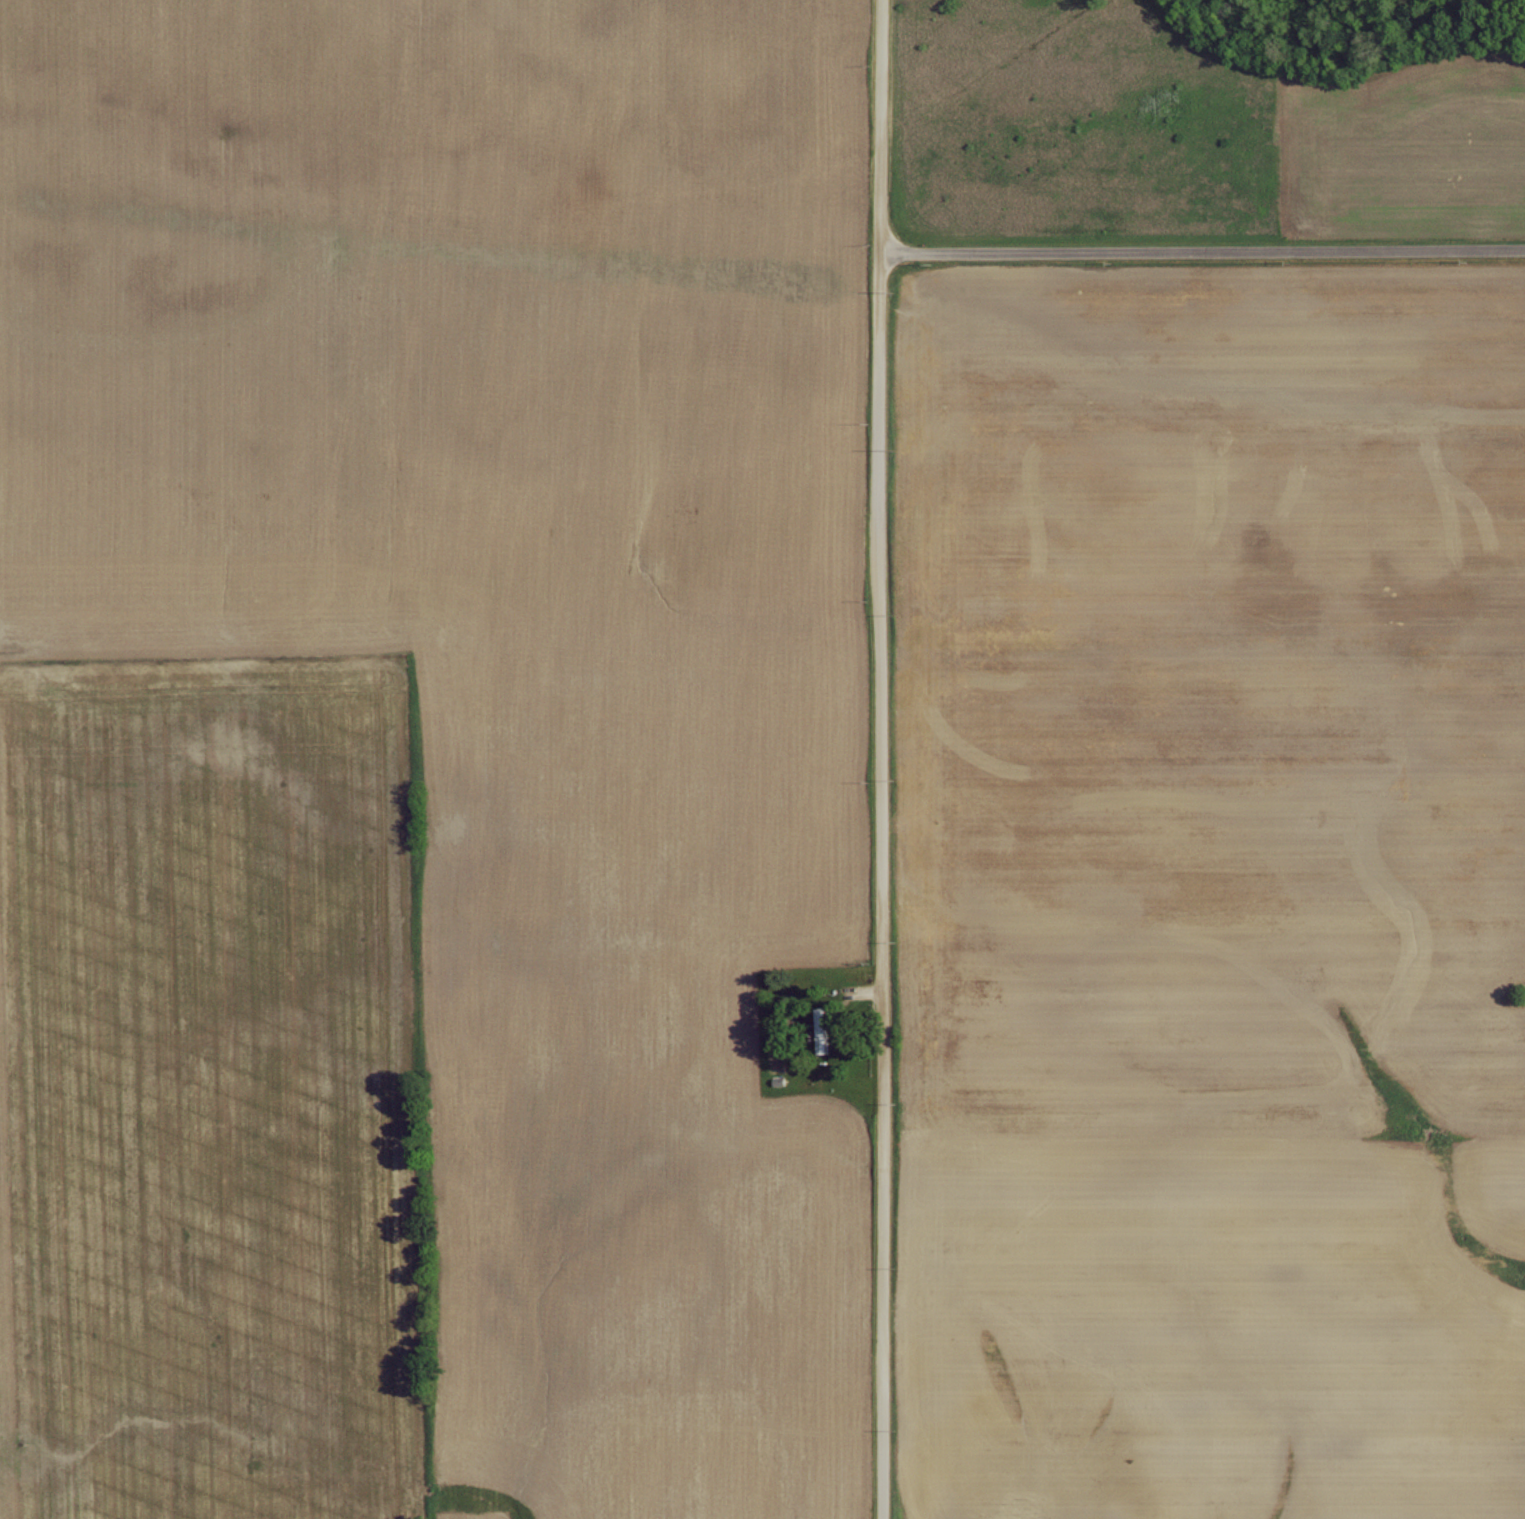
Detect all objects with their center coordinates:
crop: (1406, 133)
road: (1201, 253)
crop: (503, 628)
road: (880, 759)
crop: (1222, 900)
crop: (203, 1099)

